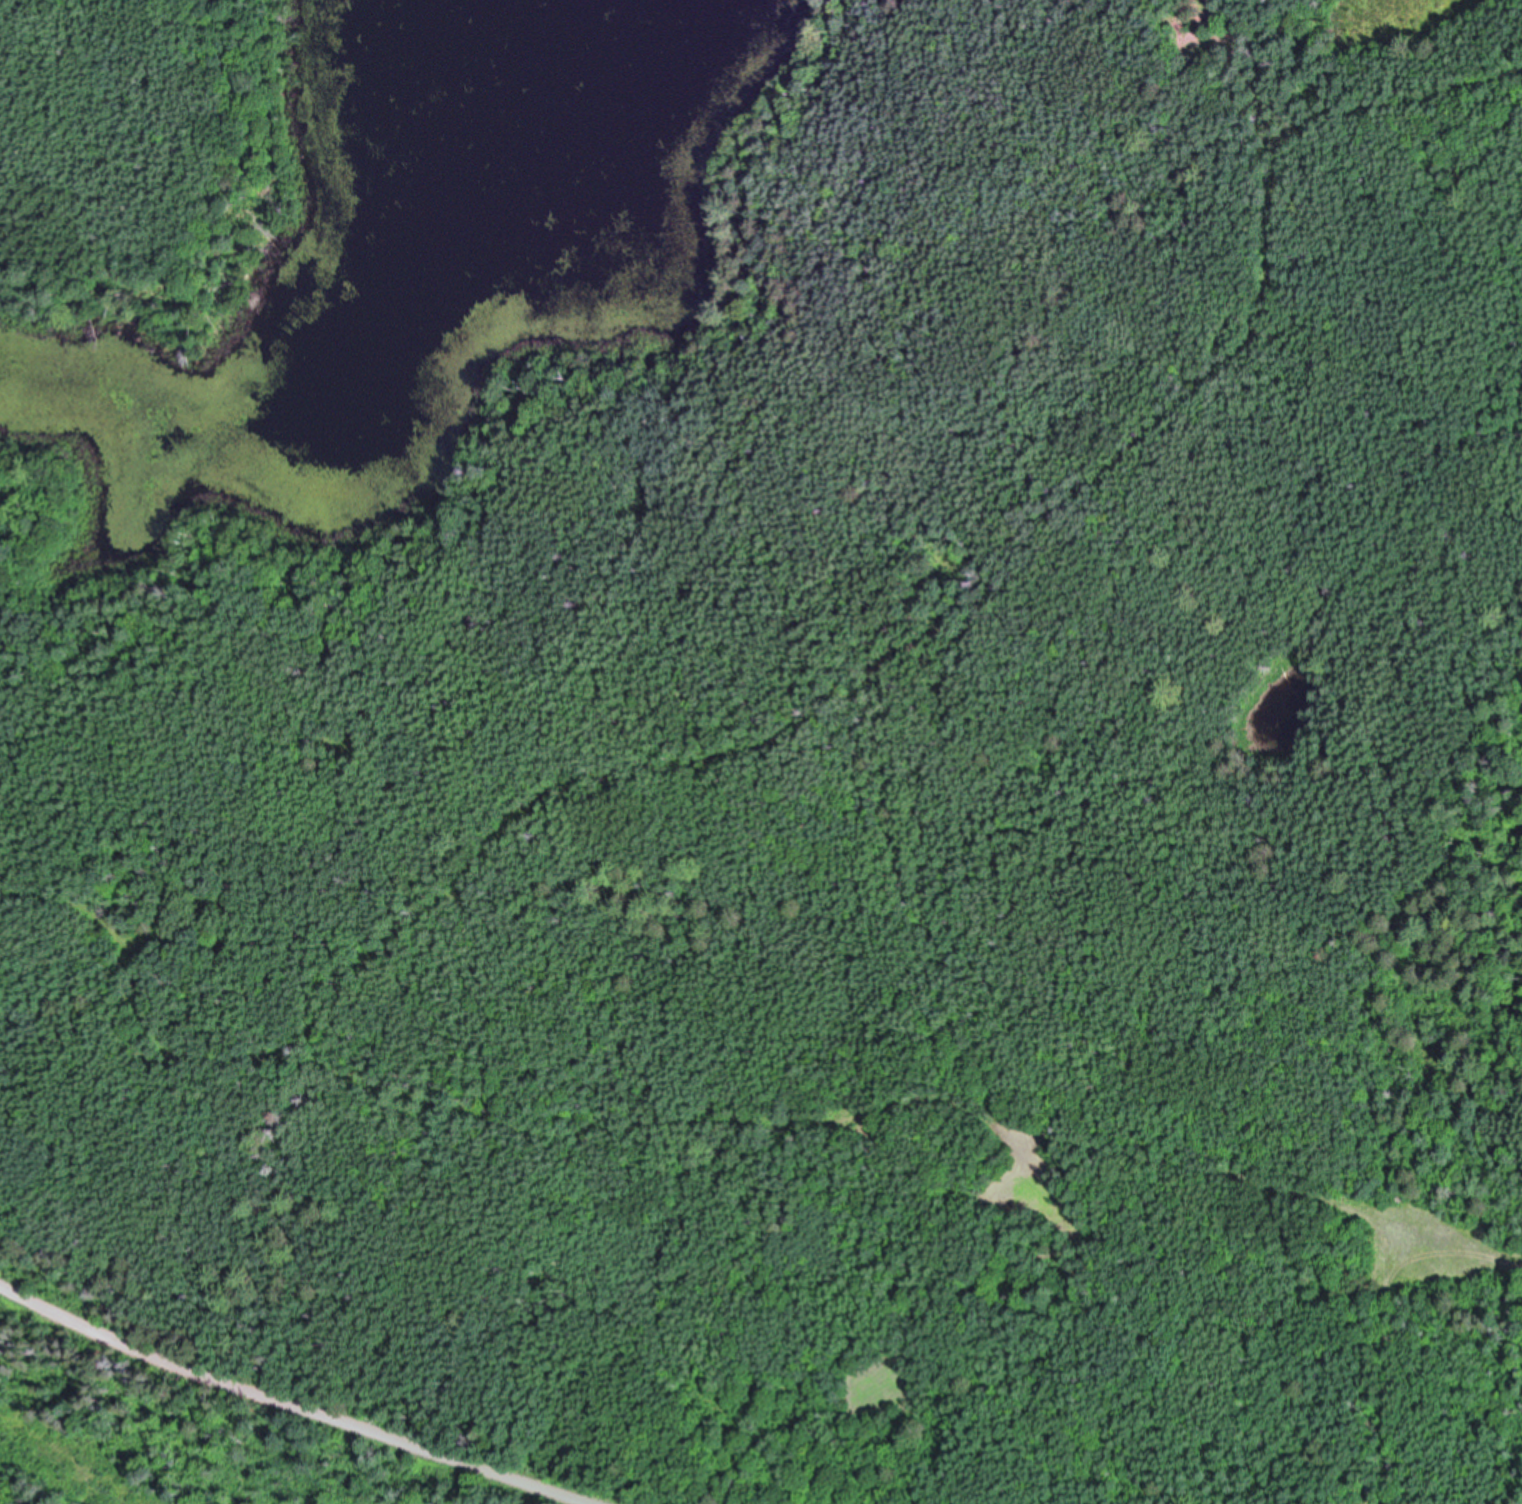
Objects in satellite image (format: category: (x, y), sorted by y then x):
road: (285, 1405)

